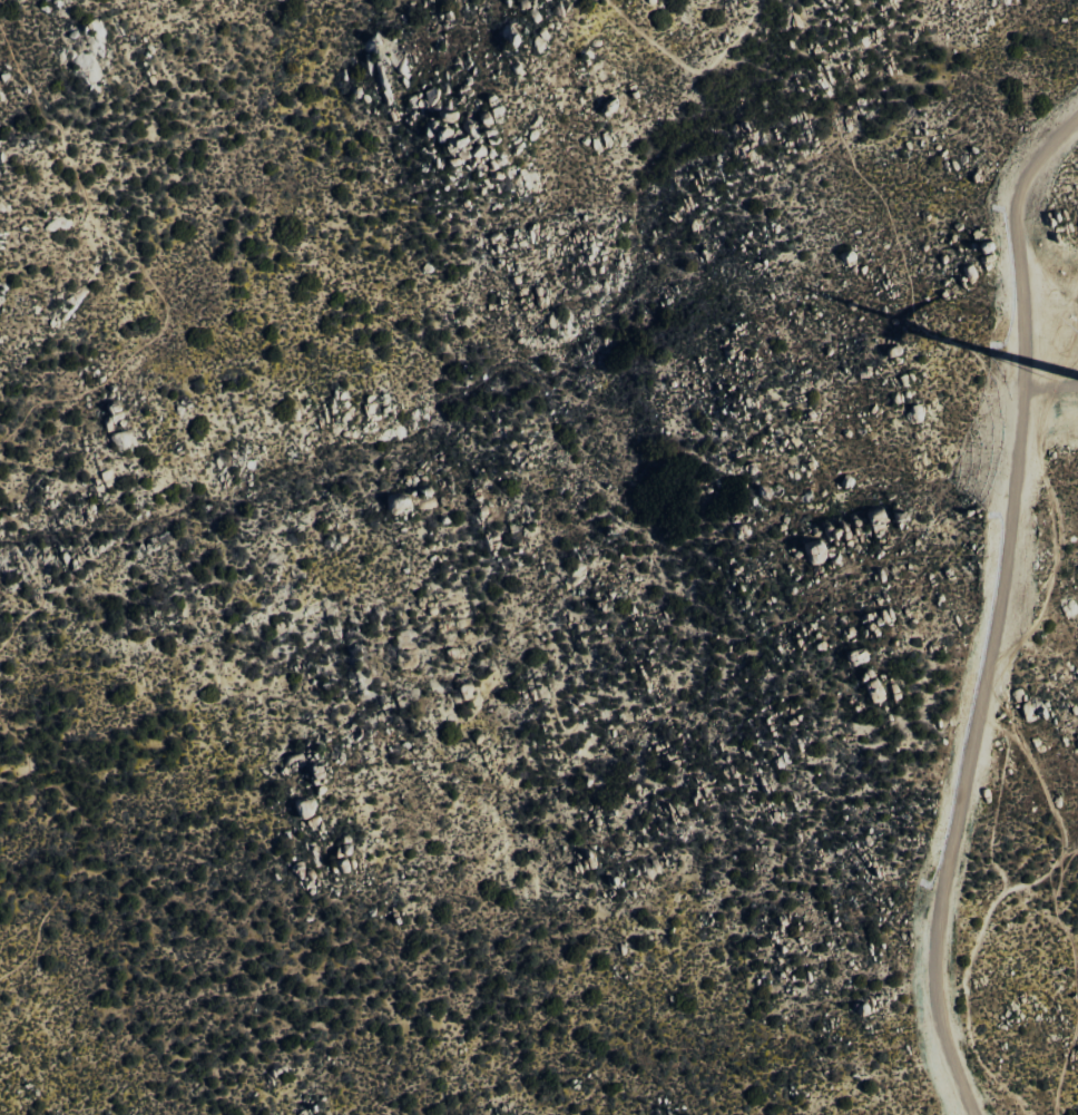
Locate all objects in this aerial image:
road: (994, 608)
road: (1031, 711)

